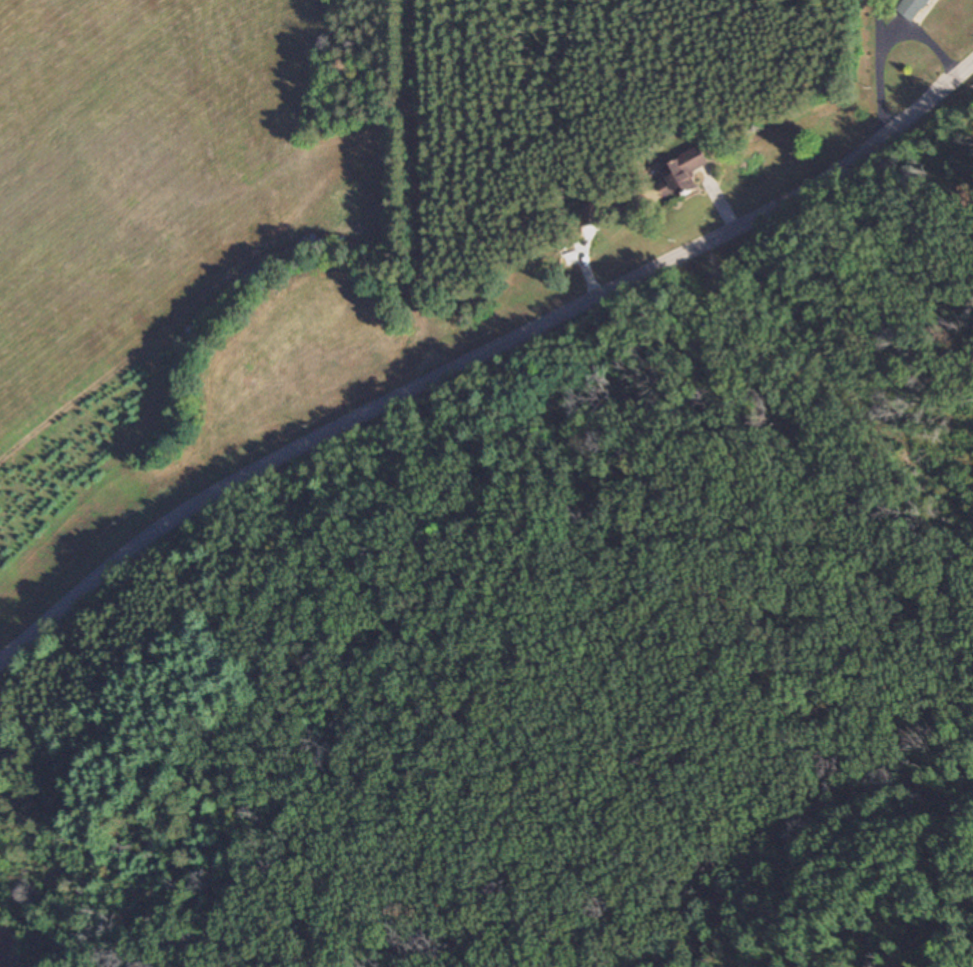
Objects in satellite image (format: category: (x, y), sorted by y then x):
building: (913, 8)
building: (682, 173)
road: (422, 189)
building: (590, 211)
road: (477, 354)

